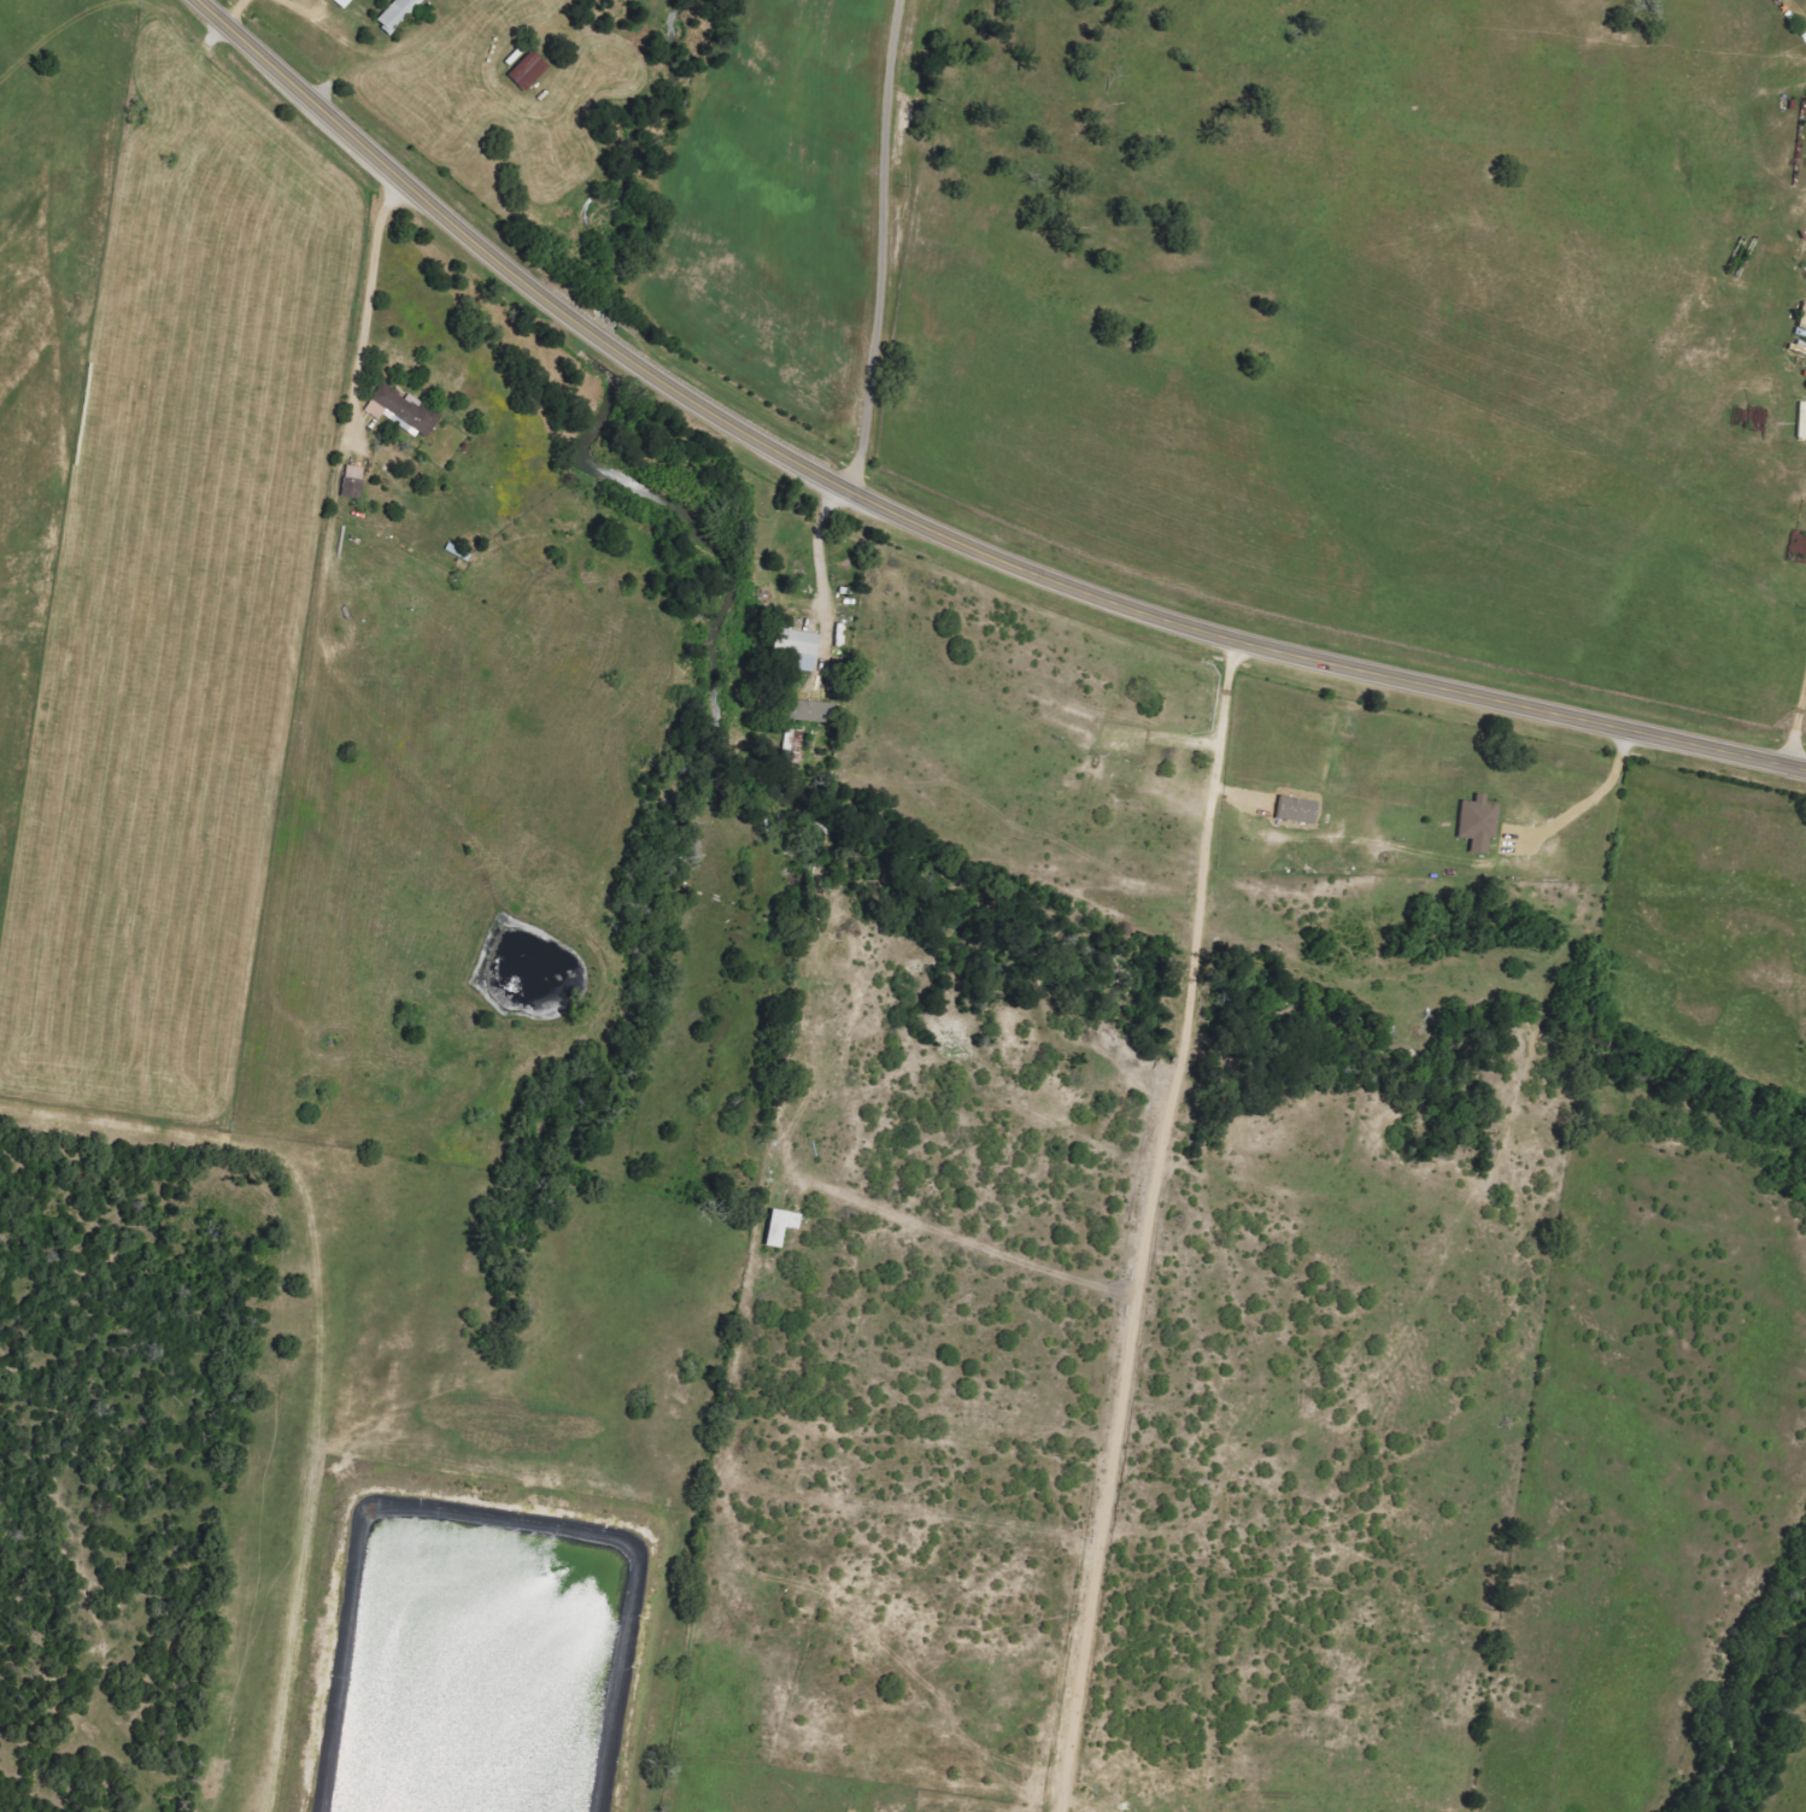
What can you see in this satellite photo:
building: (342, 2)
road: (1798, 8)
building: (397, 14)
building: (528, 71)
road: (885, 248)
road: (368, 309)
building: (403, 410)
building: (352, 481)
road: (932, 529)
road: (823, 577)
building: (798, 646)
building: (809, 710)
road: (1795, 719)
building: (791, 747)
road: (1589, 805)
building: (1296, 809)
building: (1478, 822)
building: (781, 1226)
road: (1149, 1226)

